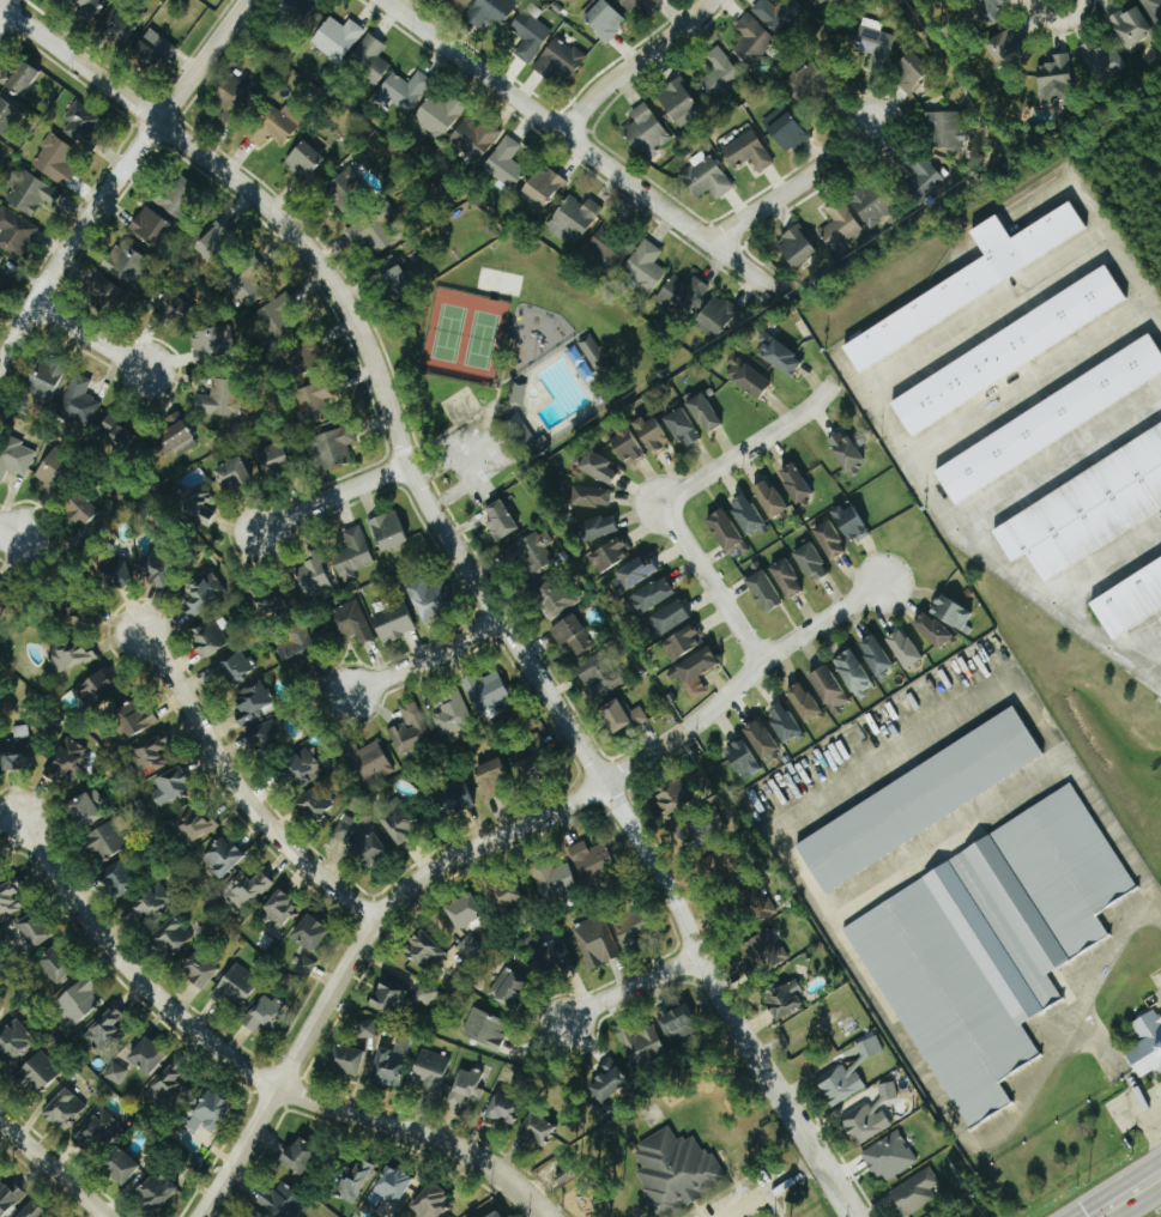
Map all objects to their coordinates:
building: (816, 1)
building: (462, 2)
building: (87, 6)
building: (629, 6)
building: (296, 8)
building: (992, 11)
building: (1154, 11)
building: (490, 12)
road: (1, 13)
building: (780, 16)
building: (605, 19)
building: (117, 26)
building: (1133, 26)
building: (531, 34)
building: (751, 37)
building: (337, 38)
building: (875, 44)
building: (1006, 46)
building: (152, 49)
building: (1103, 59)
building: (369, 60)
building: (560, 60)
road: (633, 63)
building: (720, 72)
building: (911, 72)
building: (19, 78)
building: (806, 80)
building: (1056, 83)
building: (405, 91)
building: (234, 98)
building: (677, 99)
building: (7, 115)
building: (440, 115)
building: (83, 123)
building: (272, 126)
building: (786, 128)
building: (947, 131)
building: (646, 132)
building: (473, 140)
road: (580, 147)
building: (748, 151)
building: (55, 159)
building: (304, 159)
building: (504, 164)
building: (708, 176)
road: (115, 177)
building: (924, 177)
building: (543, 187)
road: (790, 187)
building: (346, 190)
building: (31, 193)
building: (181, 198)
building: (872, 202)
building: (574, 219)
building: (151, 226)
building: (840, 228)
building: (373, 231)
building: (16, 232)
building: (216, 242)
building: (607, 246)
building: (797, 247)
building: (1, 258)
building: (127, 265)
building: (646, 266)
building: (395, 278)
building: (974, 278)
building: (246, 287)
building: (110, 292)
building: (682, 295)
building: (175, 308)
building: (277, 315)
building: (720, 316)
road: (87, 339)
building: (212, 341)
building: (1009, 350)
building: (779, 356)
road: (905, 356)
building: (307, 357)
building: (588, 359)
park: (512, 364)
building: (749, 377)
building: (47, 380)
building: (518, 393)
building: (316, 398)
building: (220, 399)
building: (79, 401)
building: (705, 413)
building: (1051, 419)
building: (683, 428)
building: (119, 430)
building: (174, 434)
building: (652, 434)
building: (628, 447)
road: (749, 447)
building: (334, 448)
building: (846, 453)
building: (14, 458)
building: (273, 459)
building: (598, 467)
building: (56, 471)
building: (232, 474)
building: (796, 483)
building: (592, 496)
building: (769, 498)
road: (327, 502)
building: (196, 507)
building: (81, 509)
building: (1087, 509)
building: (746, 514)
building: (501, 521)
building: (851, 523)
building: (598, 527)
building: (725, 529)
building: (388, 531)
road: (14, 533)
building: (830, 540)
building: (534, 553)
building: (352, 555)
building: (609, 556)
building: (811, 563)
road: (1105, 563)
building: (158, 569)
building: (117, 570)
road: (468, 573)
building: (635, 573)
building: (313, 576)
building: (787, 579)
road: (709, 583)
building: (764, 591)
building: (204, 593)
building: (653, 595)
building: (552, 598)
building: (1129, 598)
building: (429, 599)
building: (4, 603)
building: (270, 606)
building: (951, 612)
building: (1160, 617)
building: (669, 618)
building: (351, 623)
building: (394, 623)
building: (932, 630)
building: (573, 635)
building: (210, 640)
road: (1101, 640)
building: (682, 643)
building: (297, 648)
building: (905, 649)
building: (876, 655)
building: (71, 656)
road: (421, 660)
building: (234, 668)
building: (697, 673)
building: (600, 674)
building: (854, 674)
building: (830, 690)
building: (98, 691)
building: (486, 692)
building: (254, 702)
building: (804, 702)
building: (452, 716)
building: (622, 716)
building: (135, 719)
building: (784, 722)
building: (410, 731)
building: (267, 738)
building: (762, 740)
building: (17, 750)
building: (152, 756)
building: (67, 759)
building: (743, 759)
building: (371, 762)
building: (303, 769)
building: (532, 769)
building: (491, 779)
building: (171, 787)
road: (237, 793)
building: (456, 797)
building: (673, 797)
building: (920, 800)
building: (315, 804)
building: (89, 809)
building: (400, 822)
building: (195, 828)
building: (346, 828)
building: (107, 841)
road: (482, 842)
road: (778, 843)
building: (371, 848)
building: (223, 858)
building: (592, 860)
building: (120, 879)
building: (556, 880)
building: (247, 889)
building: (509, 896)
building: (8, 900)
building: (150, 903)
building: (758, 904)
building: (279, 913)
building: (466, 913)
building: (633, 928)
building: (34, 931)
building: (310, 933)
building: (173, 937)
road: (1114, 939)
building: (595, 941)
building: (470, 946)
building: (992, 946)
building: (424, 951)
building: (764, 952)
building: (552, 958)
building: (58, 965)
building: (306, 967)
building: (200, 970)
building: (236, 987)
building: (510, 988)
road: (624, 992)
building: (389, 995)
building: (425, 995)
building: (785, 1000)
building: (78, 1001)
building: (264, 1013)
building: (679, 1024)
building: (485, 1028)
building: (367, 1029)
building: (104, 1030)
building: (13, 1042)
road: (1105, 1042)
building: (1148, 1045)
building: (643, 1046)
building: (147, 1058)
building: (346, 1060)
building: (392, 1064)
road: (242, 1065)
building: (40, 1071)
building: (430, 1072)
building: (116, 1073)
building: (846, 1077)
building: (609, 1082)
building: (167, 1085)
building: (466, 1088)
road: (1138, 1096)
building: (504, 1108)
building: (65, 1110)
building: (210, 1114)
road: (1156, 1115)
building: (870, 1116)
road: (1156, 1125)
building: (538, 1130)
building: (98, 1131)
building: (300, 1156)
building: (890, 1157)
building: (122, 1167)
road: (53, 1169)
building: (676, 1171)
building: (353, 1181)
road: (1114, 1185)
building: (393, 1187)
road: (774, 1188)
building: (157, 1192)
building: (915, 1193)
building: (10, 1197)
building: (284, 1201)
building: (431, 1203)
road: (1143, 1205)
building: (34, 1211)
building: (255, 1215)
building: (497, 1215)
traffic signals: (1069, 1215)
road: (1066, 1216)
road: (1069, 1216)

